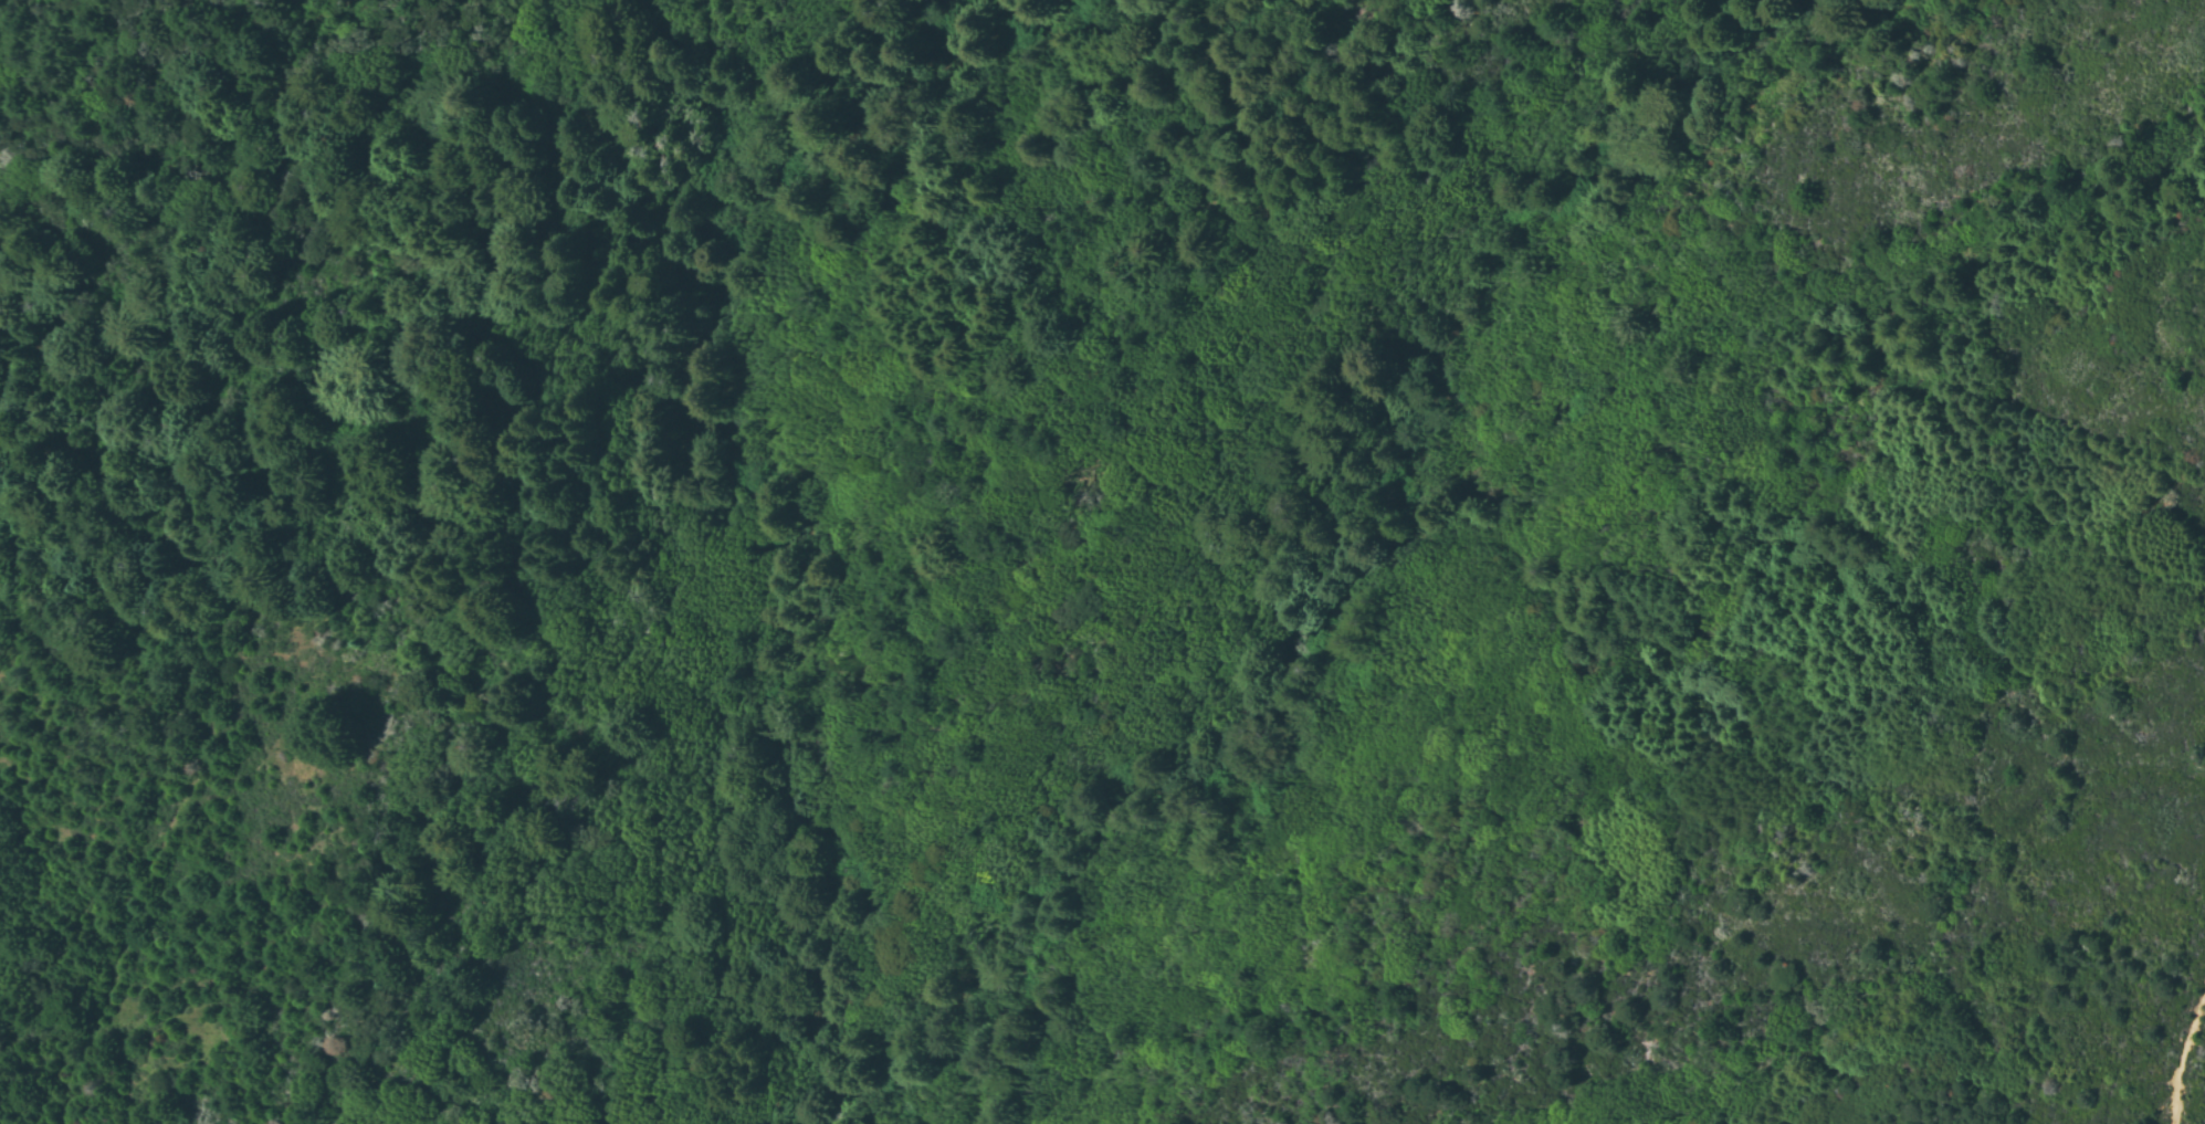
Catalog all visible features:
road: (2184, 1063)

